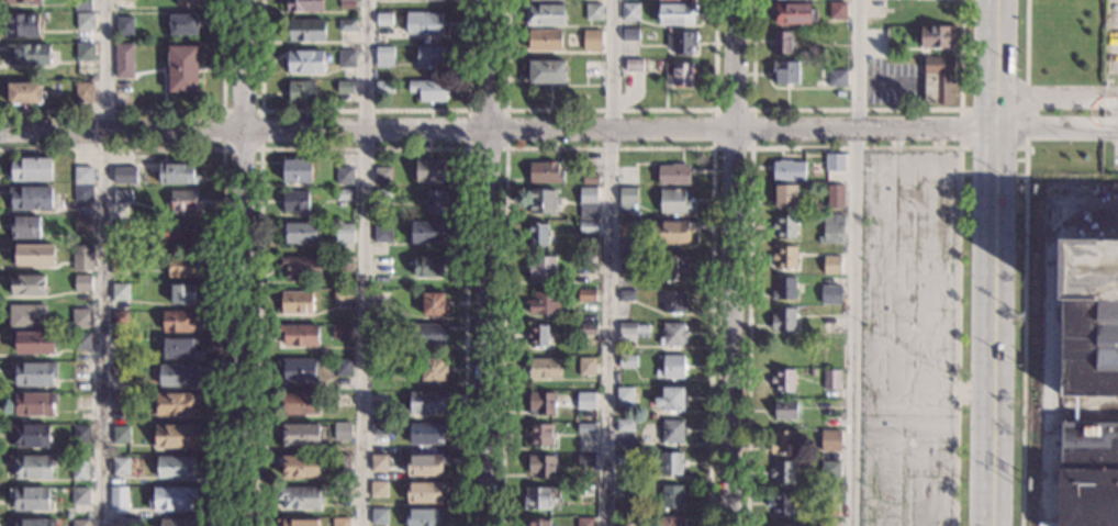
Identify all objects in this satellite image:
building: (539, 0)
building: (9, 1)
building: (33, 2)
building: (185, 2)
building: (346, 2)
building: (80, 4)
building: (302, 4)
building: (592, 11)
building: (629, 11)
building: (836, 11)
building: (790, 12)
building: (675, 14)
building: (545, 15)
building: (383, 19)
building: (83, 21)
building: (182, 23)
building: (423, 23)
building: (123, 24)
building: (20, 25)
building: (345, 25)
building: (303, 30)
building: (629, 35)
building: (937, 36)
building: (591, 38)
building: (541, 40)
building: (680, 42)
building: (780, 43)
building: (82, 52)
building: (27, 54)
building: (428, 56)
building: (383, 57)
building: (344, 58)
building: (122, 60)
building: (304, 60)
building: (633, 66)
building: (180, 68)
building: (592, 69)
building: (546, 71)
building: (785, 71)
building: (678, 74)
building: (837, 78)
building: (937, 79)
parking lot: (891, 81)
road: (884, 82)
building: (819, 85)
building: (343, 87)
building: (382, 87)
building: (426, 89)
building: (300, 91)
building: (23, 92)
building: (82, 92)
road: (1059, 96)
road: (610, 109)
road: (715, 109)
road: (856, 109)
road: (992, 109)
road: (166, 110)
road: (364, 110)
road: (960, 127)
road: (499, 128)
road: (1058, 128)
road: (467, 147)
road: (610, 147)
road: (992, 147)
road: (364, 148)
road: (856, 148)
road: (222, 149)
building: (834, 163)
building: (29, 170)
building: (294, 170)
building: (428, 170)
building: (786, 171)
building: (544, 172)
building: (176, 174)
building: (672, 174)
building: (81, 175)
building: (123, 175)
building: (343, 176)
building: (381, 176)
building: (589, 179)
building: (81, 193)
building: (382, 193)
building: (120, 195)
building: (835, 195)
building: (27, 197)
building: (785, 197)
building: (342, 198)
building: (181, 200)
building: (626, 200)
building: (433, 201)
building: (541, 201)
building: (673, 202)
building: (293, 203)
building: (588, 203)
building: (81, 224)
road: (221, 226)
building: (22, 227)
building: (118, 227)
building: (586, 227)
building: (783, 227)
building: (343, 228)
building: (624, 230)
building: (381, 231)
building: (427, 231)
building: (670, 232)
building: (178, 233)
building: (298, 233)
building: (537, 234)
building: (832, 234)
building: (31, 256)
building: (784, 257)
building: (82, 258)
building: (585, 261)
road: (100, 262)
road: (243, 262)
road: (364, 262)
road: (485, 262)
road: (607, 262)
road: (733, 262)
road: (854, 262)
road: (996, 262)
road: (1024, 262)
building: (343, 264)
building: (380, 265)
building: (830, 265)
building: (120, 266)
building: (427, 266)
building: (627, 266)
building: (181, 267)
building: (299, 267)
building: (541, 268)
building: (675, 269)
building: (81, 283)
building: (26, 286)
building: (782, 289)
building: (118, 291)
building: (180, 293)
building: (585, 295)
building: (625, 295)
building: (830, 295)
building: (340, 296)
building: (379, 301)
building: (294, 302)
building: (672, 302)
building: (433, 304)
building: (543, 304)
building: (26, 317)
building: (81, 317)
building: (118, 317)
building: (1089, 317)
building: (782, 320)
building: (178, 321)
building: (379, 329)
building: (586, 329)
road: (1050, 329)
building: (630, 331)
building: (338, 332)
building: (426, 334)
building: (298, 335)
building: (537, 336)
building: (671, 336)
parking lot: (908, 337)
building: (78, 340)
building: (32, 344)
building: (178, 347)
building: (626, 361)
building: (340, 367)
building: (379, 367)
building: (585, 367)
building: (671, 367)
building: (543, 368)
building: (116, 370)
building: (297, 370)
building: (432, 370)
building: (32, 373)
building: (176, 374)
building: (830, 380)
building: (782, 381)
building: (623, 395)
building: (378, 398)
building: (671, 399)
building: (584, 401)
building: (79, 402)
building: (425, 402)
building: (31, 403)
building: (120, 403)
building: (299, 403)
building: (172, 404)
building: (540, 404)
road: (1075, 409)
road: (1083, 409)
building: (782, 410)
building: (829, 422)
building: (623, 425)
building: (584, 428)
building: (377, 430)
building: (340, 432)
building: (671, 432)
building: (79, 433)
building: (119, 434)
building: (425, 434)
building: (27, 435)
building: (297, 435)
building: (538, 435)
building: (172, 436)
building: (829, 440)
building: (781, 443)
building: (624, 460)
building: (584, 461)
building: (339, 462)
building: (377, 463)
building: (669, 463)
building: (424, 465)
building: (119, 466)
building: (298, 466)
building: (31, 467)
building: (174, 467)
building: (539, 467)
building: (77, 468)
building: (829, 470)
building: (781, 473)
building: (1087, 474)
building: (377, 489)
building: (623, 490)
building: (423, 491)
building: (339, 493)
building: (584, 493)
building: (78, 496)
building: (670, 496)
building: (298, 497)
building: (537, 497)
building: (29, 499)
building: (116, 499)
building: (170, 499)
building: (781, 503)
building: (66, 515)
building: (424, 516)
building: (377, 517)
building: (623, 521)
building: (30, 522)
building: (116, 522)
building: (295, 522)
building: (338, 522)
building: (583, 522)
building: (667, 522)
building: (78, 523)
building: (174, 523)
building: (537, 523)
building: (781, 524)

